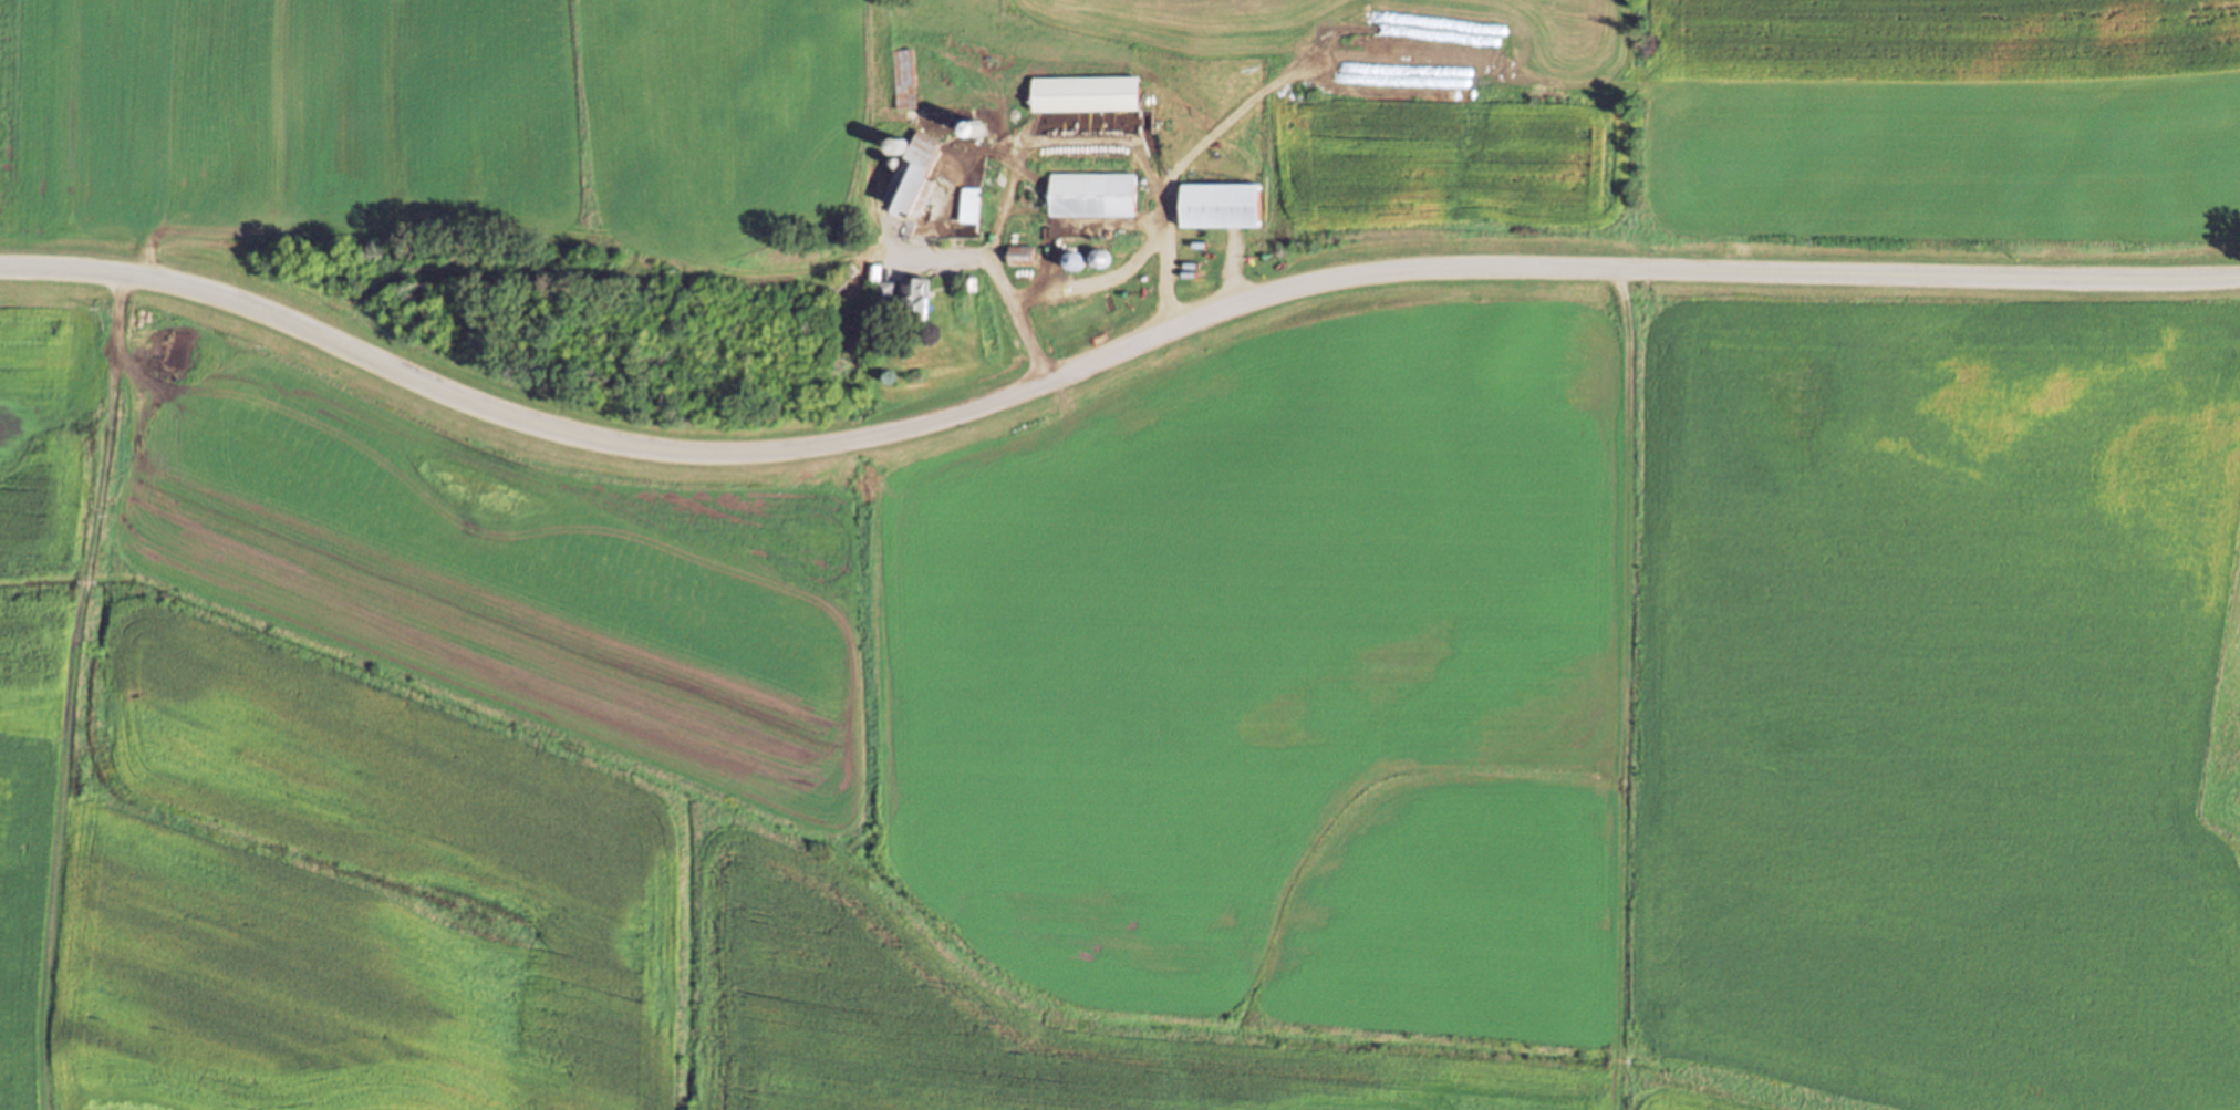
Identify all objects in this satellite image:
building: (905, 75)
building: (1085, 92)
building: (913, 172)
building: (1093, 193)
building: (969, 203)
building: (1221, 204)
building: (1020, 253)
road: (966, 255)
building: (874, 270)
building: (842, 278)
building: (969, 281)
road: (1102, 281)
building: (885, 291)
building: (916, 297)
road: (1103, 357)

